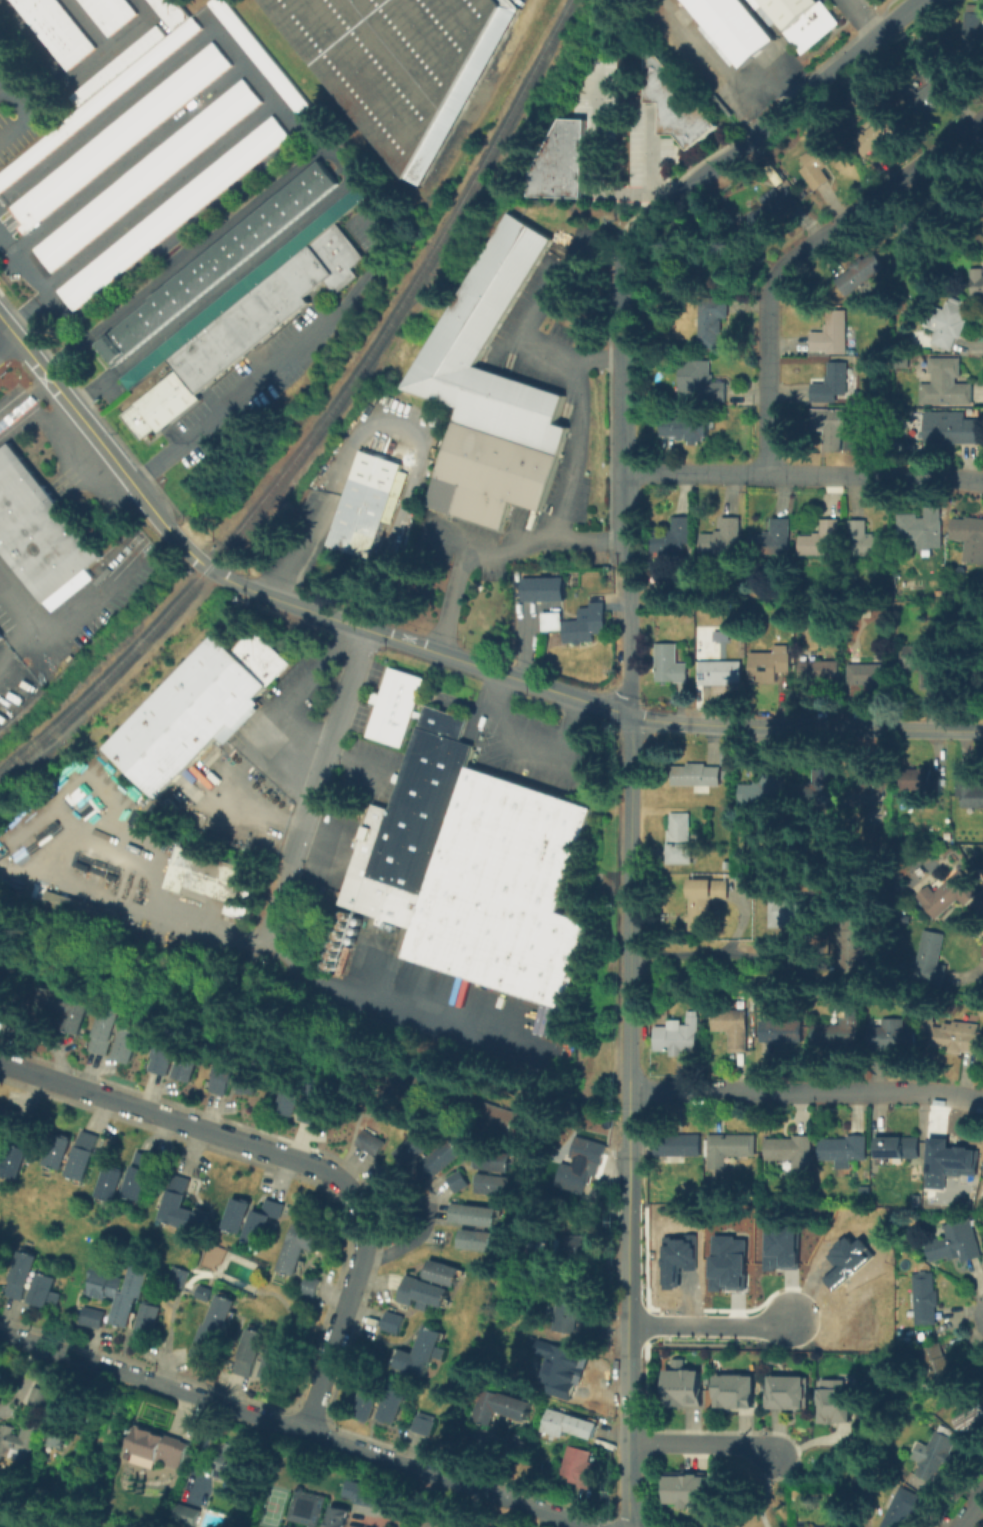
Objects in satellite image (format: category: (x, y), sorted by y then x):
building: (109, 12)
building: (169, 12)
road: (865, 15)
building: (797, 19)
road: (88, 25)
building: (729, 27)
building: (55, 28)
building: (972, 32)
building: (401, 62)
building: (265, 63)
building: (116, 65)
road: (74, 75)
building: (934, 90)
building: (97, 100)
building: (674, 100)
road: (274, 101)
road: (26, 109)
road: (771, 118)
building: (876, 135)
building: (118, 136)
road: (596, 154)
road: (129, 156)
building: (820, 157)
road: (651, 161)
building: (560, 162)
road: (339, 163)
building: (147, 175)
road: (159, 193)
building: (771, 209)
building: (172, 212)
building: (912, 228)
road: (625, 249)
road: (799, 256)
building: (323, 261)
building: (214, 264)
building: (861, 275)
road: (43, 283)
building: (243, 285)
building: (978, 288)
building: (279, 295)
building: (251, 318)
building: (709, 325)
building: (951, 326)
building: (833, 335)
road: (5, 336)
building: (223, 341)
road: (599, 358)
road: (281, 363)
building: (195, 364)
building: (701, 380)
building: (834, 386)
building: (948, 386)
building: (492, 393)
road: (24, 400)
road: (66, 402)
building: (159, 403)
railway: (325, 418)
road: (580, 420)
road: (395, 423)
building: (830, 429)
building: (954, 429)
building: (687, 430)
road: (804, 473)
road: (626, 487)
building: (368, 505)
road: (167, 528)
building: (921, 530)
building: (40, 532)
building: (723, 538)
building: (773, 539)
building: (820, 540)
building: (970, 540)
building: (672, 542)
building: (865, 542)
road: (495, 548)
building: (541, 588)
road: (80, 596)
building: (578, 621)
road: (33, 627)
building: (0, 634)
building: (0, 642)
road: (415, 646)
building: (925, 665)
building: (670, 666)
building: (769, 667)
building: (721, 672)
building: (822, 672)
building: (870, 676)
road: (285, 700)
building: (395, 705)
building: (197, 709)
road: (636, 718)
road: (743, 726)
road: (867, 729)
road: (937, 730)
road: (524, 746)
building: (697, 777)
building: (914, 781)
road: (314, 786)
building: (813, 789)
building: (969, 791)
building: (762, 793)
building: (862, 796)
building: (409, 822)
building: (681, 841)
building: (213, 879)
building: (506, 890)
building: (948, 896)
building: (705, 904)
building: (79, 908)
road: (182, 910)
building: (793, 919)
building: (851, 947)
road: (724, 952)
road: (626, 959)
building: (931, 961)
building: (68, 1013)
building: (841, 1029)
building: (733, 1030)
building: (783, 1032)
building: (115, 1036)
building: (895, 1036)
building: (954, 1036)
building: (675, 1040)
building: (161, 1054)
building: (186, 1063)
building: (220, 1076)
building: (249, 1079)
building: (396, 1080)
road: (805, 1092)
building: (293, 1093)
building: (313, 1099)
building: (500, 1118)
building: (369, 1142)
building: (686, 1147)
building: (733, 1147)
building: (899, 1148)
building: (412, 1149)
building: (57, 1151)
building: (792, 1152)
building: (844, 1154)
building: (82, 1155)
building: (437, 1158)
building: (950, 1158)
road: (299, 1159)
building: (492, 1159)
building: (12, 1160)
building: (582, 1163)
building: (137, 1175)
building: (455, 1182)
building: (109, 1183)
building: (493, 1184)
building: (180, 1208)
building: (471, 1214)
building: (235, 1215)
building: (264, 1225)
building: (475, 1240)
road: (406, 1245)
building: (955, 1245)
building: (298, 1247)
building: (783, 1248)
building: (575, 1250)
building: (679, 1259)
building: (849, 1261)
building: (730, 1264)
building: (440, 1272)
building: (20, 1275)
building: (309, 1285)
building: (43, 1289)
building: (118, 1289)
building: (202, 1292)
building: (420, 1293)
building: (924, 1300)
building: (570, 1309)
building: (89, 1316)
building: (144, 1320)
building: (390, 1321)
building: (860, 1321)
road: (710, 1324)
building: (212, 1327)
building: (248, 1351)
building: (418, 1353)
building: (281, 1361)
building: (676, 1363)
road: (627, 1365)
building: (940, 1369)
building: (564, 1384)
building: (686, 1390)
building: (738, 1394)
building: (790, 1394)
building: (40, 1398)
building: (837, 1403)
building: (365, 1405)
building: (391, 1405)
building: (501, 1408)
building: (971, 1418)
building: (422, 1422)
building: (570, 1424)
road: (298, 1428)
building: (59, 1442)
building: (19, 1443)
road: (704, 1444)
building: (161, 1450)
building: (935, 1456)
building: (239, 1466)
building: (582, 1469)
park: (773, 1485)
building: (688, 1491)
building: (363, 1492)
road: (762, 1492)
building: (904, 1507)
building: (318, 1511)
road: (973, 1513)
building: (291, 1526)
building: (807, 1526)

